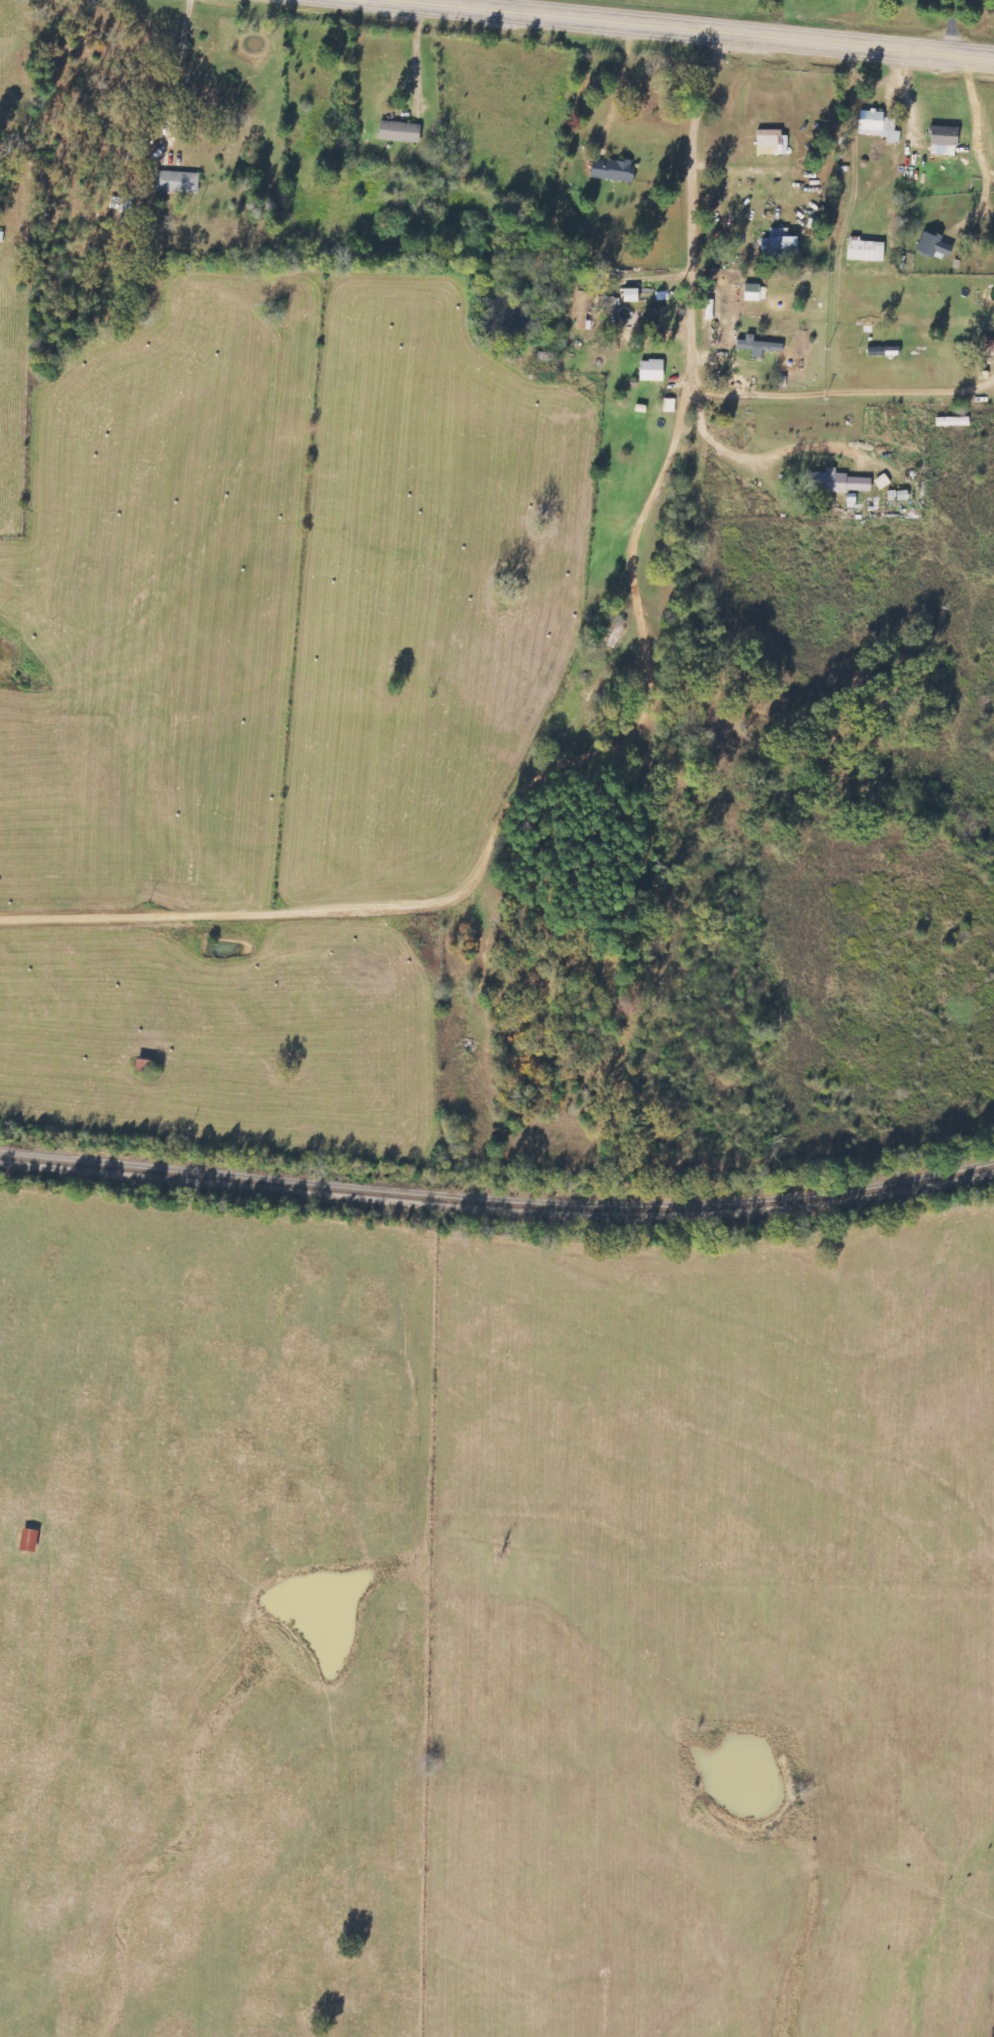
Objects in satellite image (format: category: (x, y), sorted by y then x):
road: (510, 7)
road: (688, 30)
road: (412, 63)
building: (879, 128)
building: (403, 132)
building: (941, 141)
building: (769, 143)
building: (609, 170)
building: (180, 181)
building: (123, 204)
road: (847, 215)
building: (778, 244)
building: (932, 246)
building: (863, 250)
road: (671, 287)
building: (754, 293)
building: (629, 295)
building: (581, 307)
building: (986, 344)
building: (755, 346)
road: (632, 356)
building: (648, 370)
building: (669, 405)
road: (784, 467)
building: (837, 482)
road: (692, 565)
road: (469, 777)
railway: (497, 1202)

